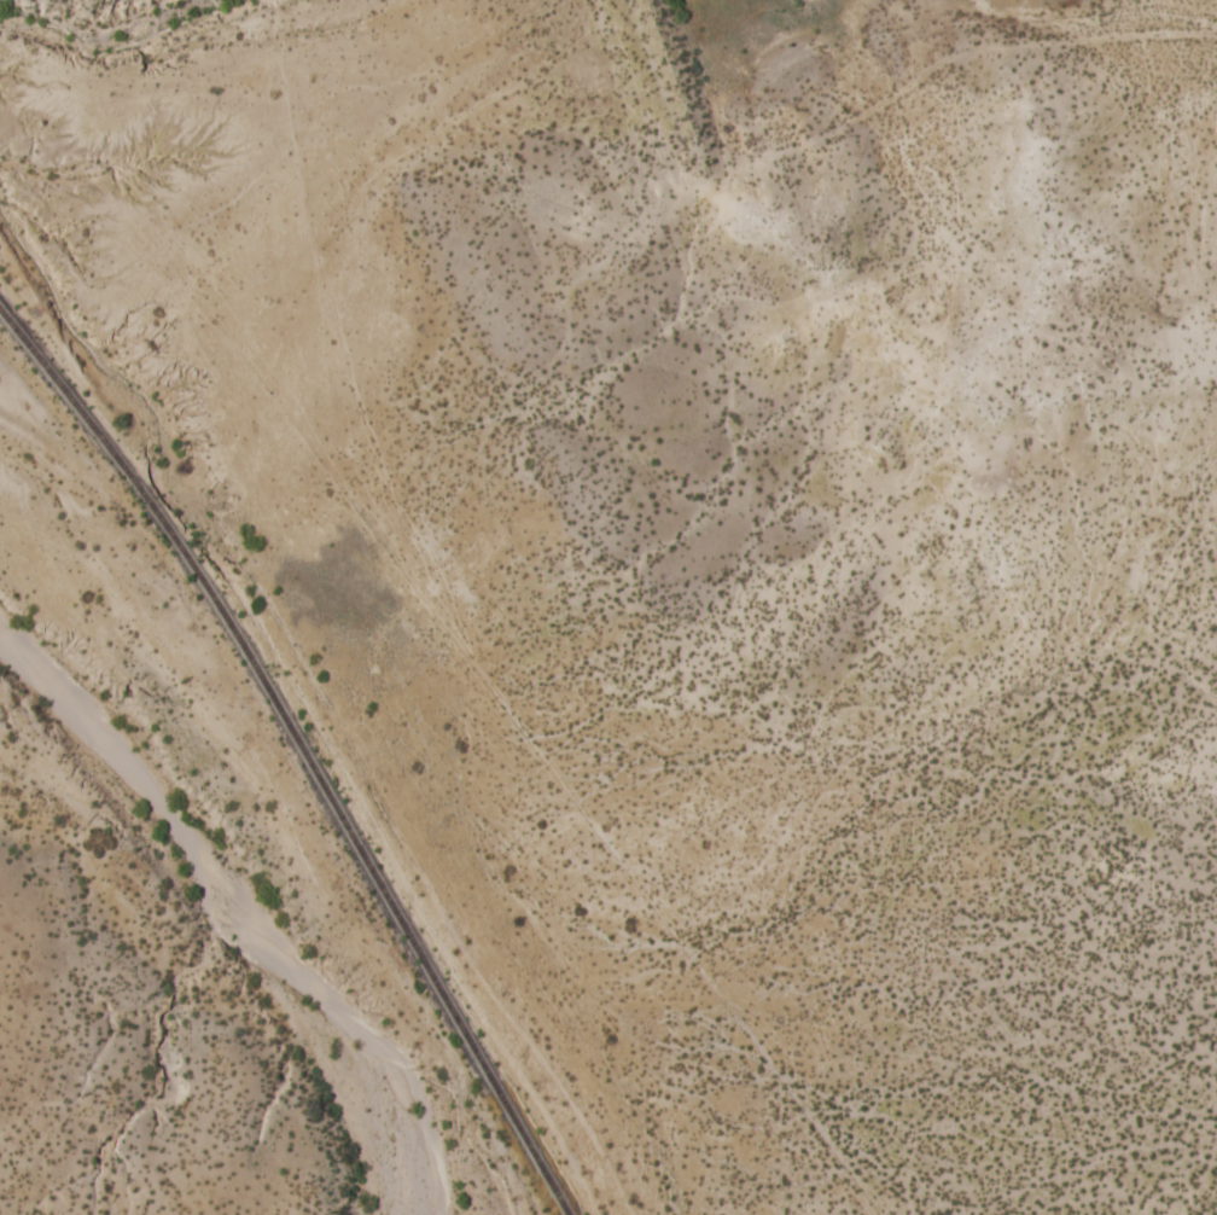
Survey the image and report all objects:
road: (630, 155)
railway: (301, 750)

